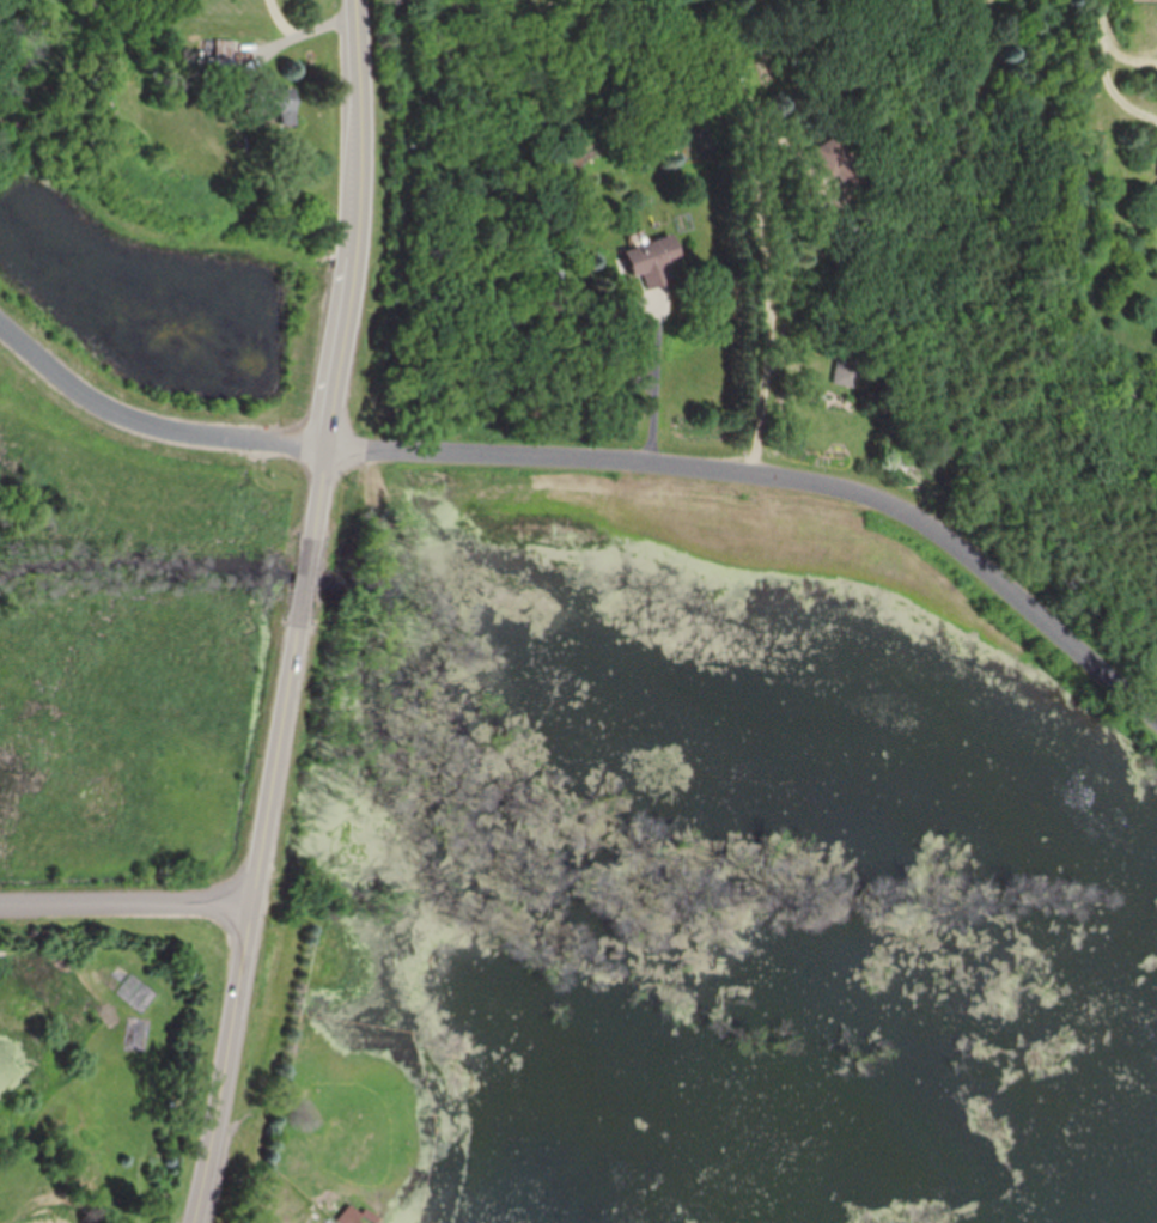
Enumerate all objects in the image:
road: (284, 18)
road: (282, 44)
building: (224, 51)
road: (1107, 71)
building: (276, 101)
building: (844, 190)
building: (645, 260)
road: (769, 274)
building: (844, 371)
road: (653, 385)
road: (148, 434)
road: (780, 471)
road: (300, 613)
road: (127, 900)
building: (359, 1216)

